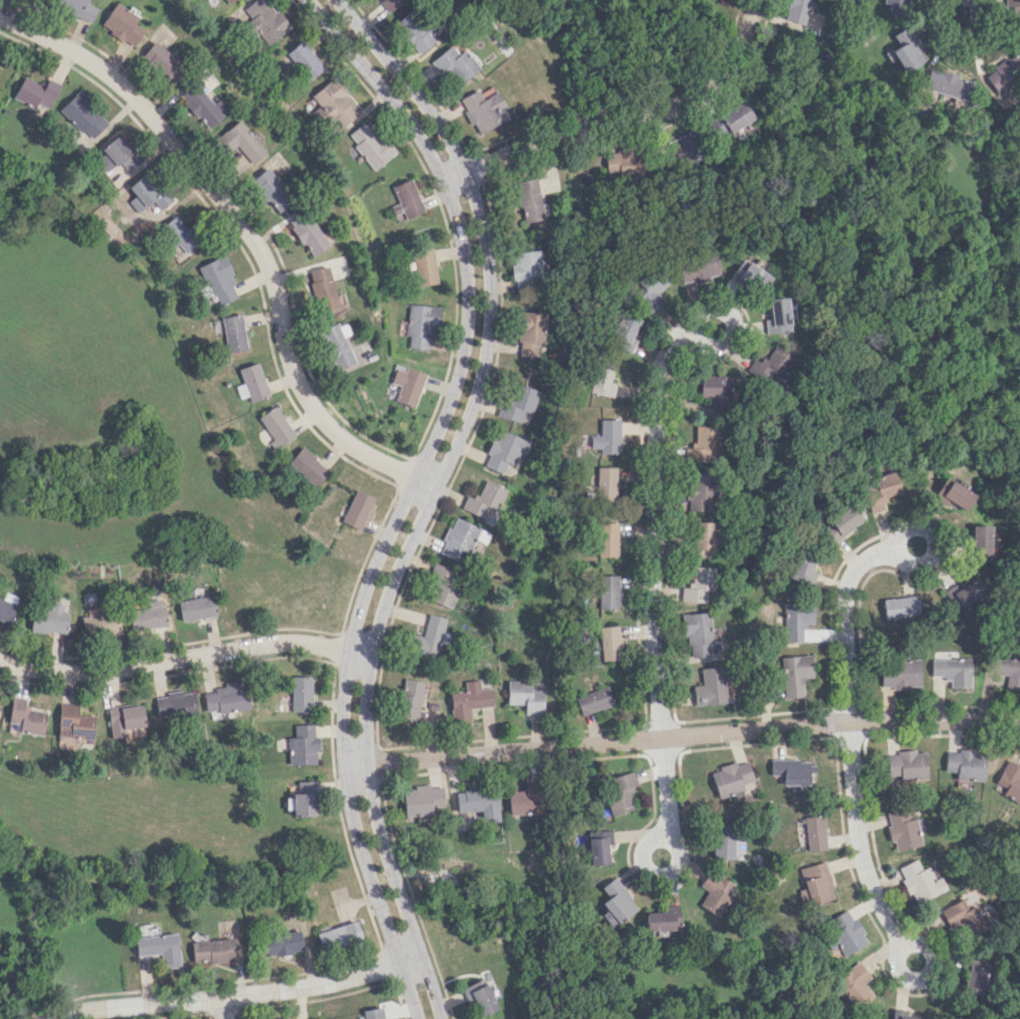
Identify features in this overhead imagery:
building: (230, 1)
building: (390, 3)
building: (896, 6)
building: (78, 8)
building: (1013, 9)
building: (796, 10)
building: (266, 19)
building: (123, 24)
building: (415, 30)
road: (957, 32)
building: (905, 50)
building: (305, 60)
building: (163, 61)
building: (454, 64)
building: (1003, 77)
building: (946, 83)
building: (37, 93)
building: (336, 103)
building: (202, 104)
building: (483, 110)
building: (84, 114)
building: (731, 119)
road: (627, 122)
building: (240, 145)
building: (371, 145)
building: (117, 155)
building: (271, 189)
building: (148, 191)
building: (408, 198)
building: (528, 199)
building: (310, 232)
road: (249, 233)
building: (178, 234)
building: (697, 265)
building: (424, 266)
building: (526, 269)
building: (751, 275)
building: (220, 280)
building: (655, 288)
building: (323, 290)
road: (727, 314)
building: (776, 315)
building: (421, 324)
building: (625, 331)
building: (234, 332)
building: (531, 333)
building: (337, 345)
road: (736, 354)
building: (771, 365)
building: (605, 381)
building: (252, 382)
building: (408, 385)
building: (713, 394)
building: (520, 402)
building: (276, 426)
building: (608, 437)
building: (704, 444)
building: (505, 450)
building: (308, 466)
building: (606, 482)
building: (881, 490)
road: (410, 491)
building: (700, 491)
road: (435, 492)
building: (952, 494)
building: (485, 499)
building: (358, 509)
building: (841, 524)
building: (462, 538)
building: (704, 538)
building: (608, 539)
road: (932, 539)
building: (981, 540)
building: (803, 569)
road: (654, 577)
building: (443, 585)
building: (700, 586)
building: (608, 591)
building: (965, 596)
building: (900, 606)
building: (6, 607)
building: (196, 608)
building: (148, 615)
building: (49, 619)
building: (797, 620)
building: (100, 621)
building: (429, 637)
building: (703, 637)
building: (610, 642)
road: (186, 656)
building: (952, 671)
building: (1008, 671)
building: (901, 672)
building: (794, 674)
building: (710, 687)
building: (300, 693)
building: (526, 696)
building: (410, 699)
building: (593, 700)
building: (469, 701)
building: (175, 705)
building: (25, 717)
building: (123, 719)
building: (73, 724)
road: (681, 736)
road: (849, 737)
building: (302, 745)
road: (709, 747)
building: (966, 764)
building: (906, 766)
building: (793, 771)
building: (729, 780)
building: (1010, 780)
building: (618, 792)
building: (304, 799)
building: (523, 799)
building: (421, 800)
building: (478, 803)
building: (902, 830)
building: (813, 832)
building: (726, 840)
building: (598, 846)
road: (654, 874)
building: (920, 881)
building: (815, 882)
building: (713, 891)
building: (614, 902)
building: (673, 915)
building: (961, 917)
building: (657, 923)
building: (844, 933)
building: (339, 936)
building: (280, 943)
building: (159, 948)
building: (211, 949)
road: (923, 976)
building: (974, 979)
building: (853, 984)
road: (244, 995)
building: (479, 996)
road: (226, 1008)
building: (374, 1013)
building: (909, 1017)
building: (285, 1018)

